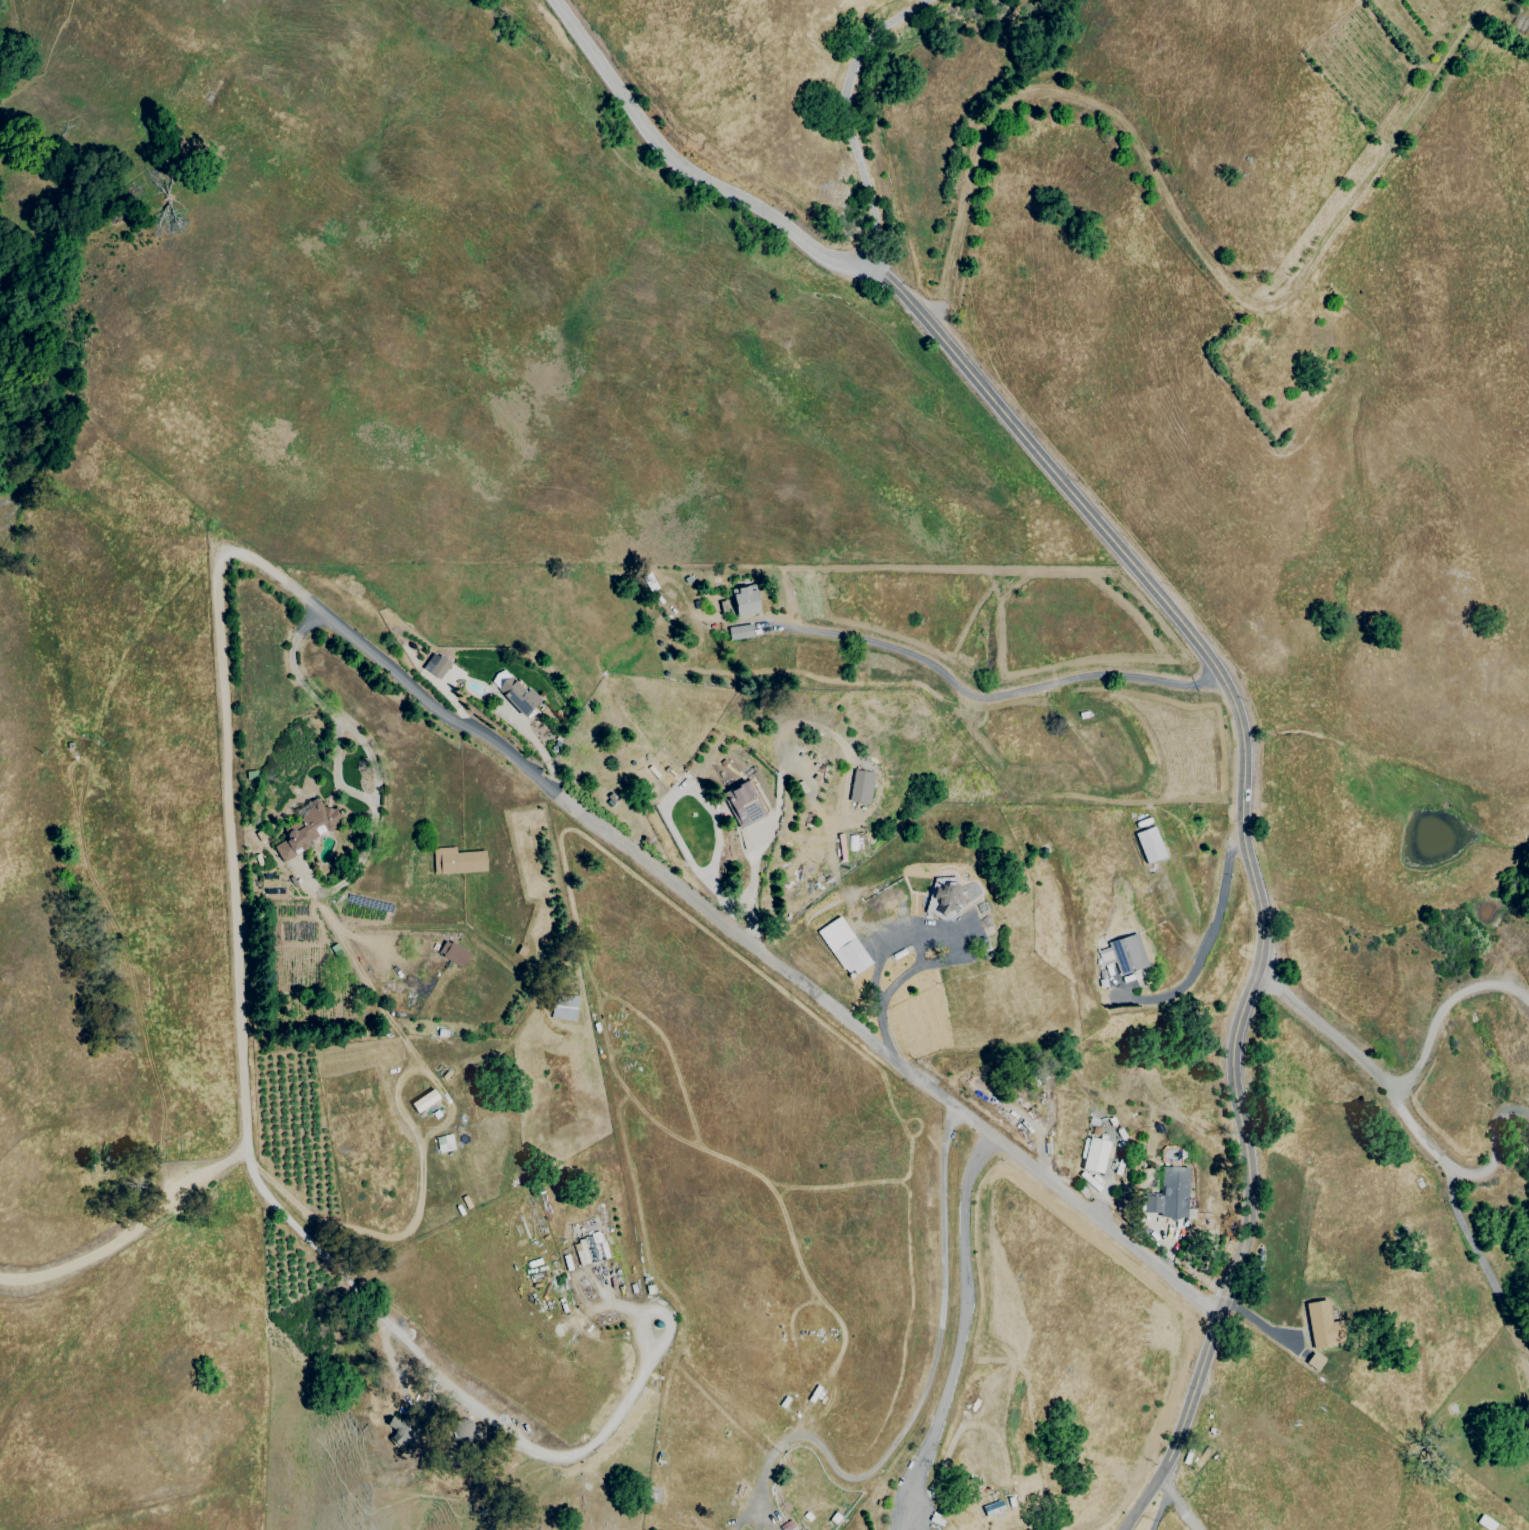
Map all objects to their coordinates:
road: (839, 115)
road: (684, 170)
road: (1186, 234)
building: (742, 601)
building: (739, 632)
road: (373, 658)
building: (435, 665)
building: (515, 692)
road: (1003, 694)
road: (326, 709)
building: (860, 787)
road: (1227, 792)
road: (371, 823)
building: (307, 826)
building: (1149, 844)
building: (457, 860)
building: (947, 897)
road: (896, 944)
road: (1194, 944)
building: (453, 953)
building: (1126, 953)
road: (1441, 1010)
building: (424, 1100)
road: (1403, 1106)
building: (444, 1142)
road: (1478, 1254)
building: (1322, 1325)
road: (961, 1335)
building: (1313, 1361)
road: (439, 1379)
road: (919, 1404)
road: (1158, 1481)
road: (1178, 1504)
road: (1159, 1510)

